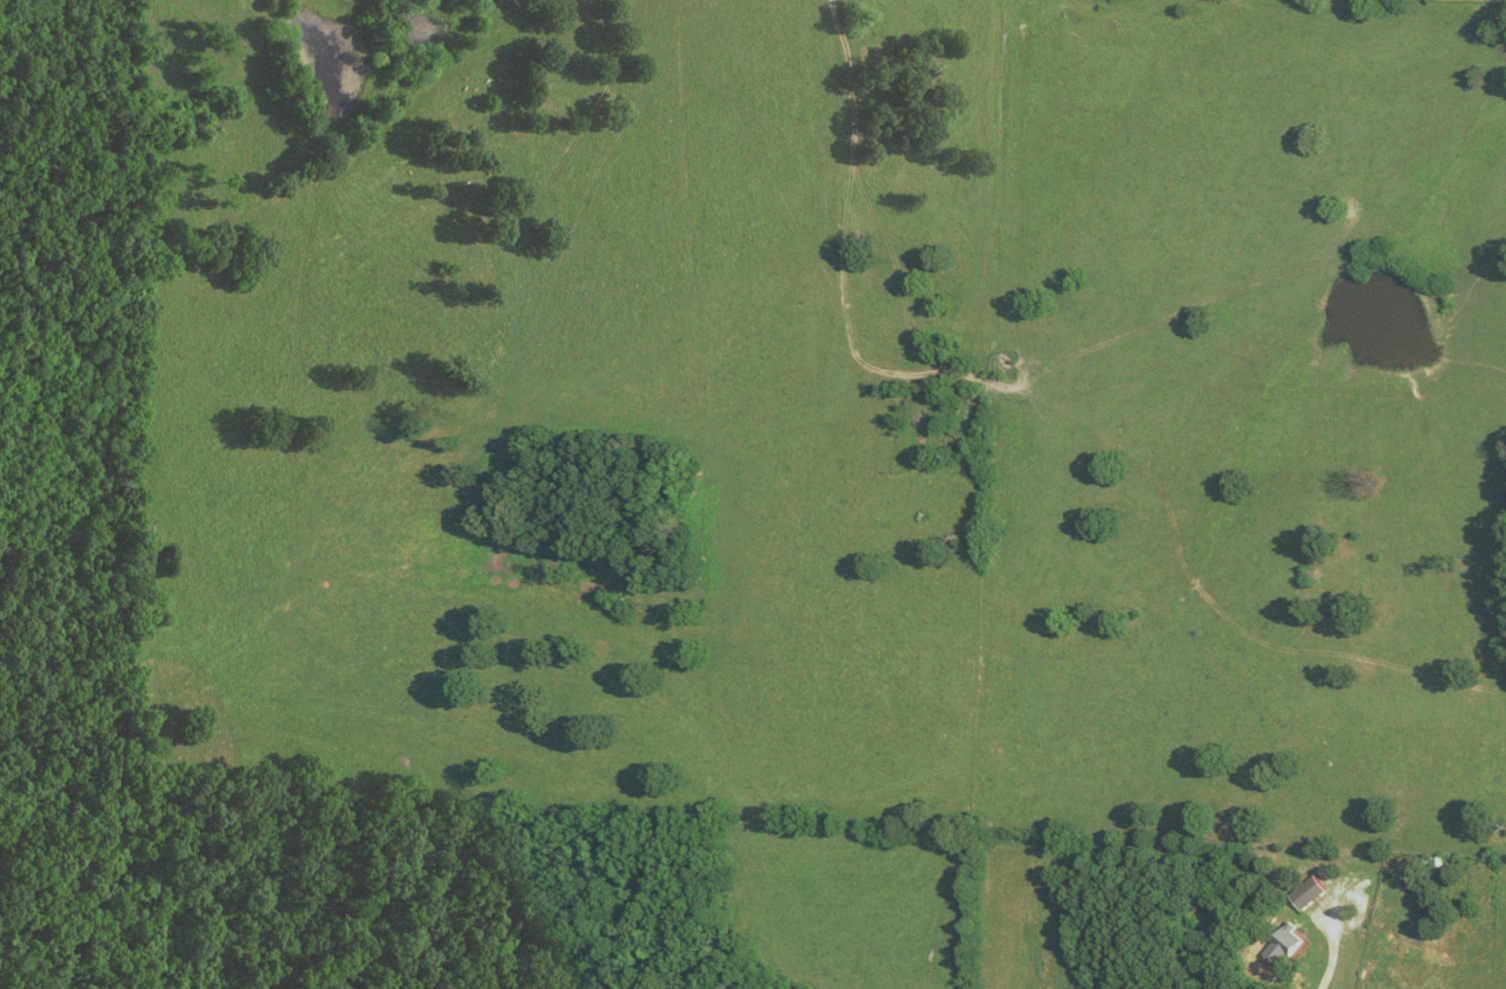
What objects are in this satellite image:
building: (1311, 891)
building: (1292, 939)
road: (1337, 954)

